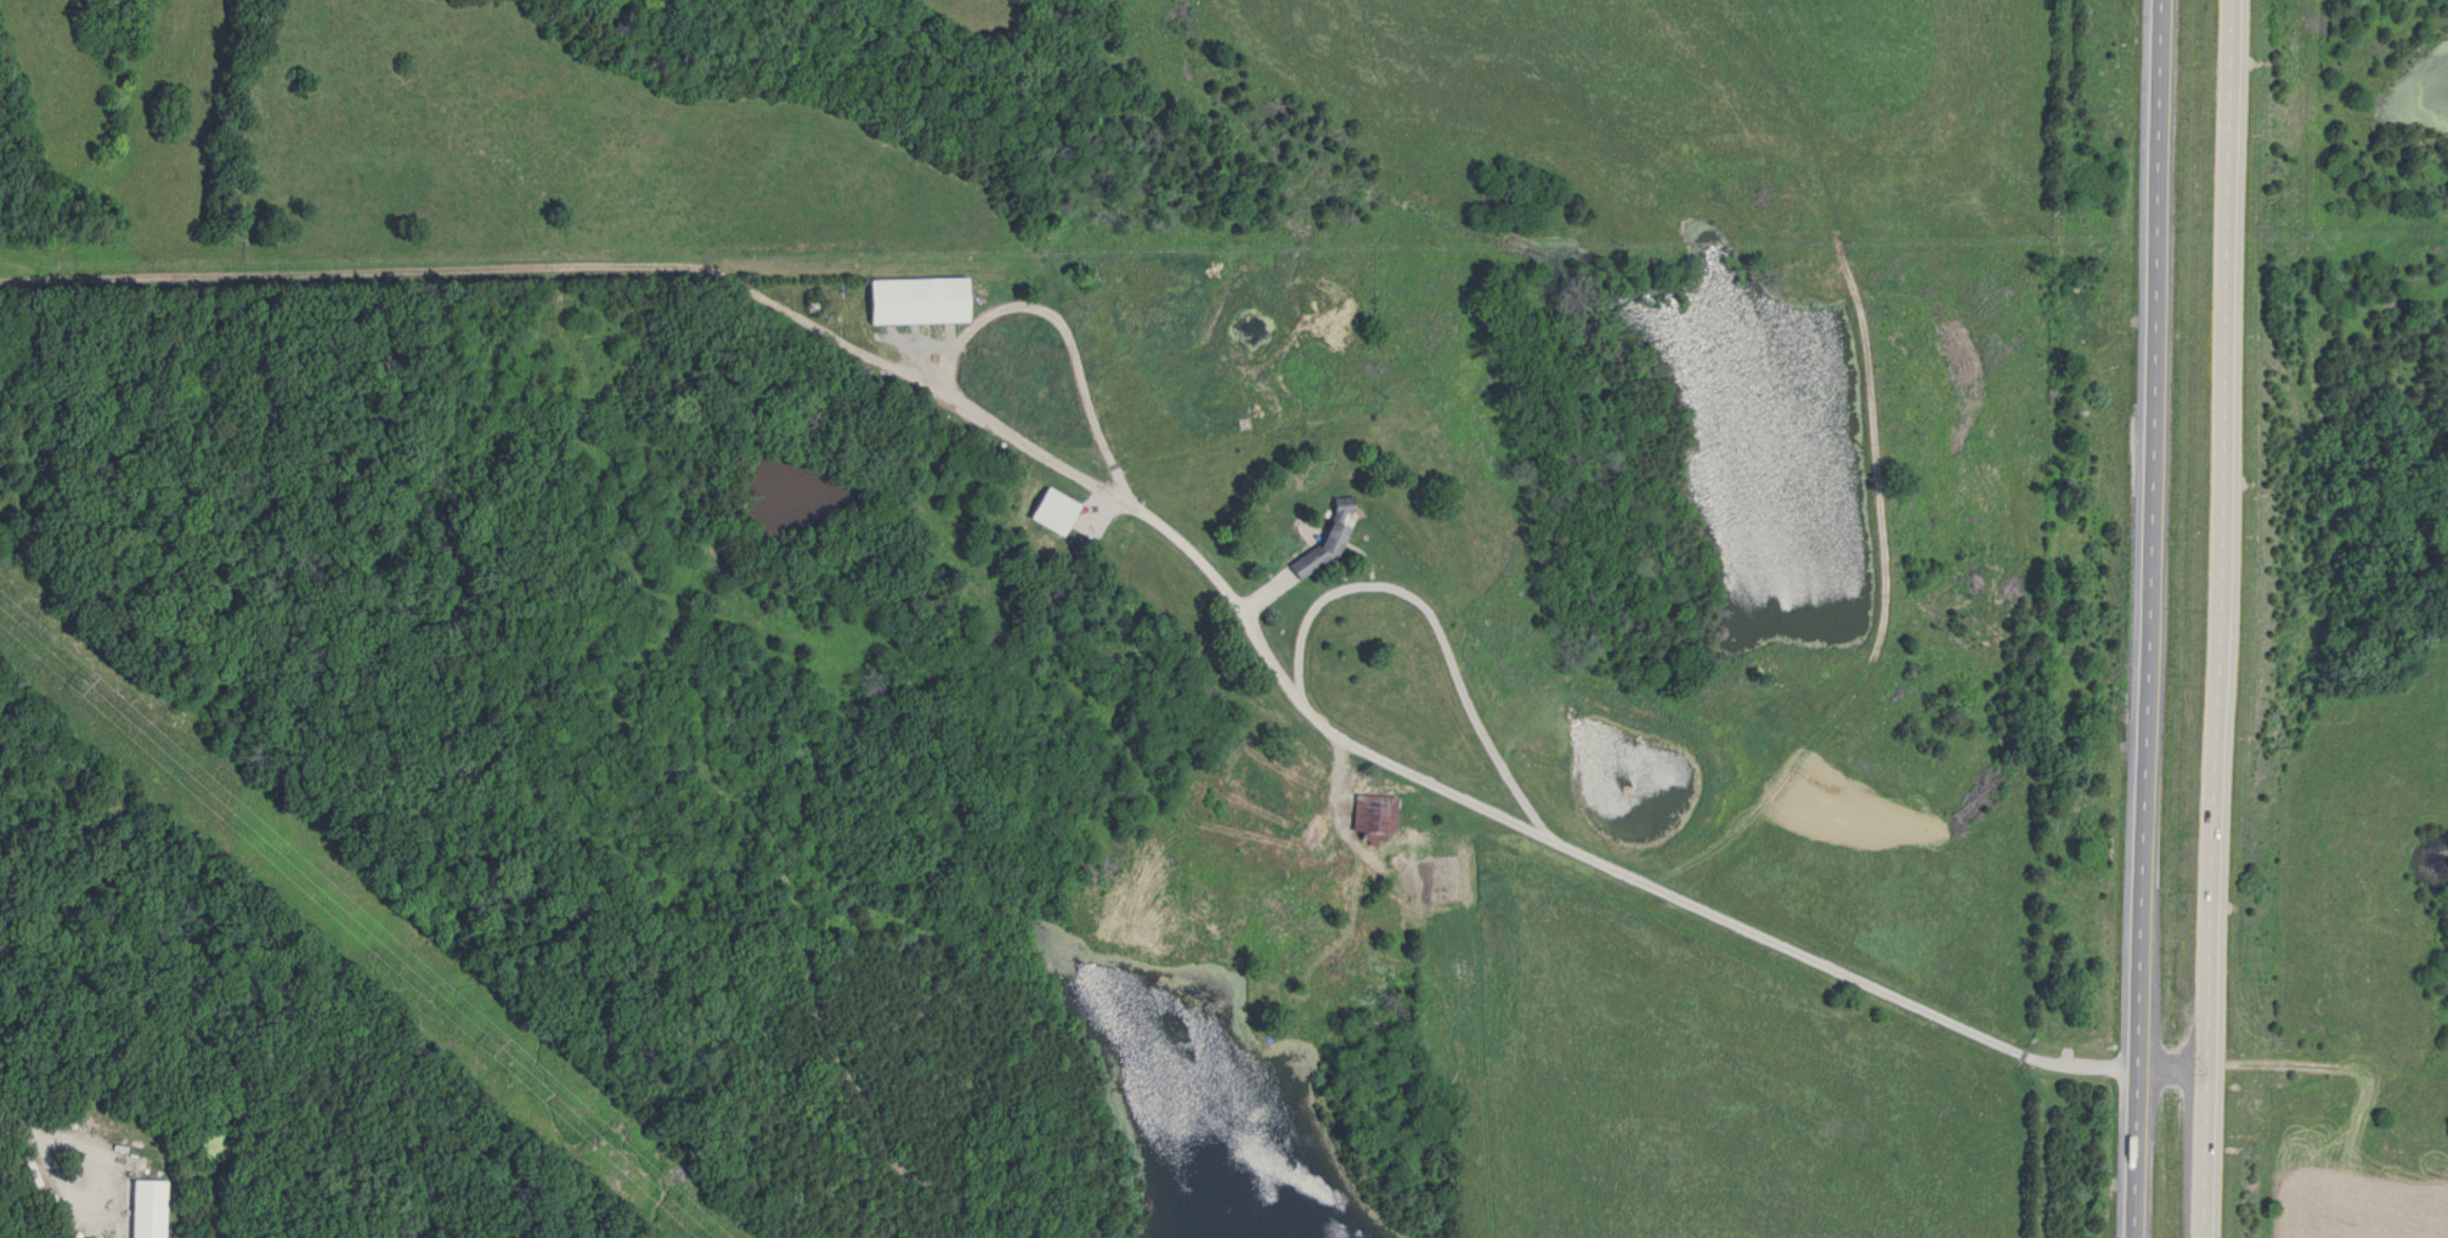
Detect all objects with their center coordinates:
building: (910, 303)
road: (989, 422)
building: (1047, 510)
road: (2153, 618)
road: (2224, 618)
power tower: (83, 686)
road: (1489, 809)
building: (1375, 821)
power tower: (490, 1044)
road: (13, 1120)
road: (101, 1195)
building: (143, 1209)

